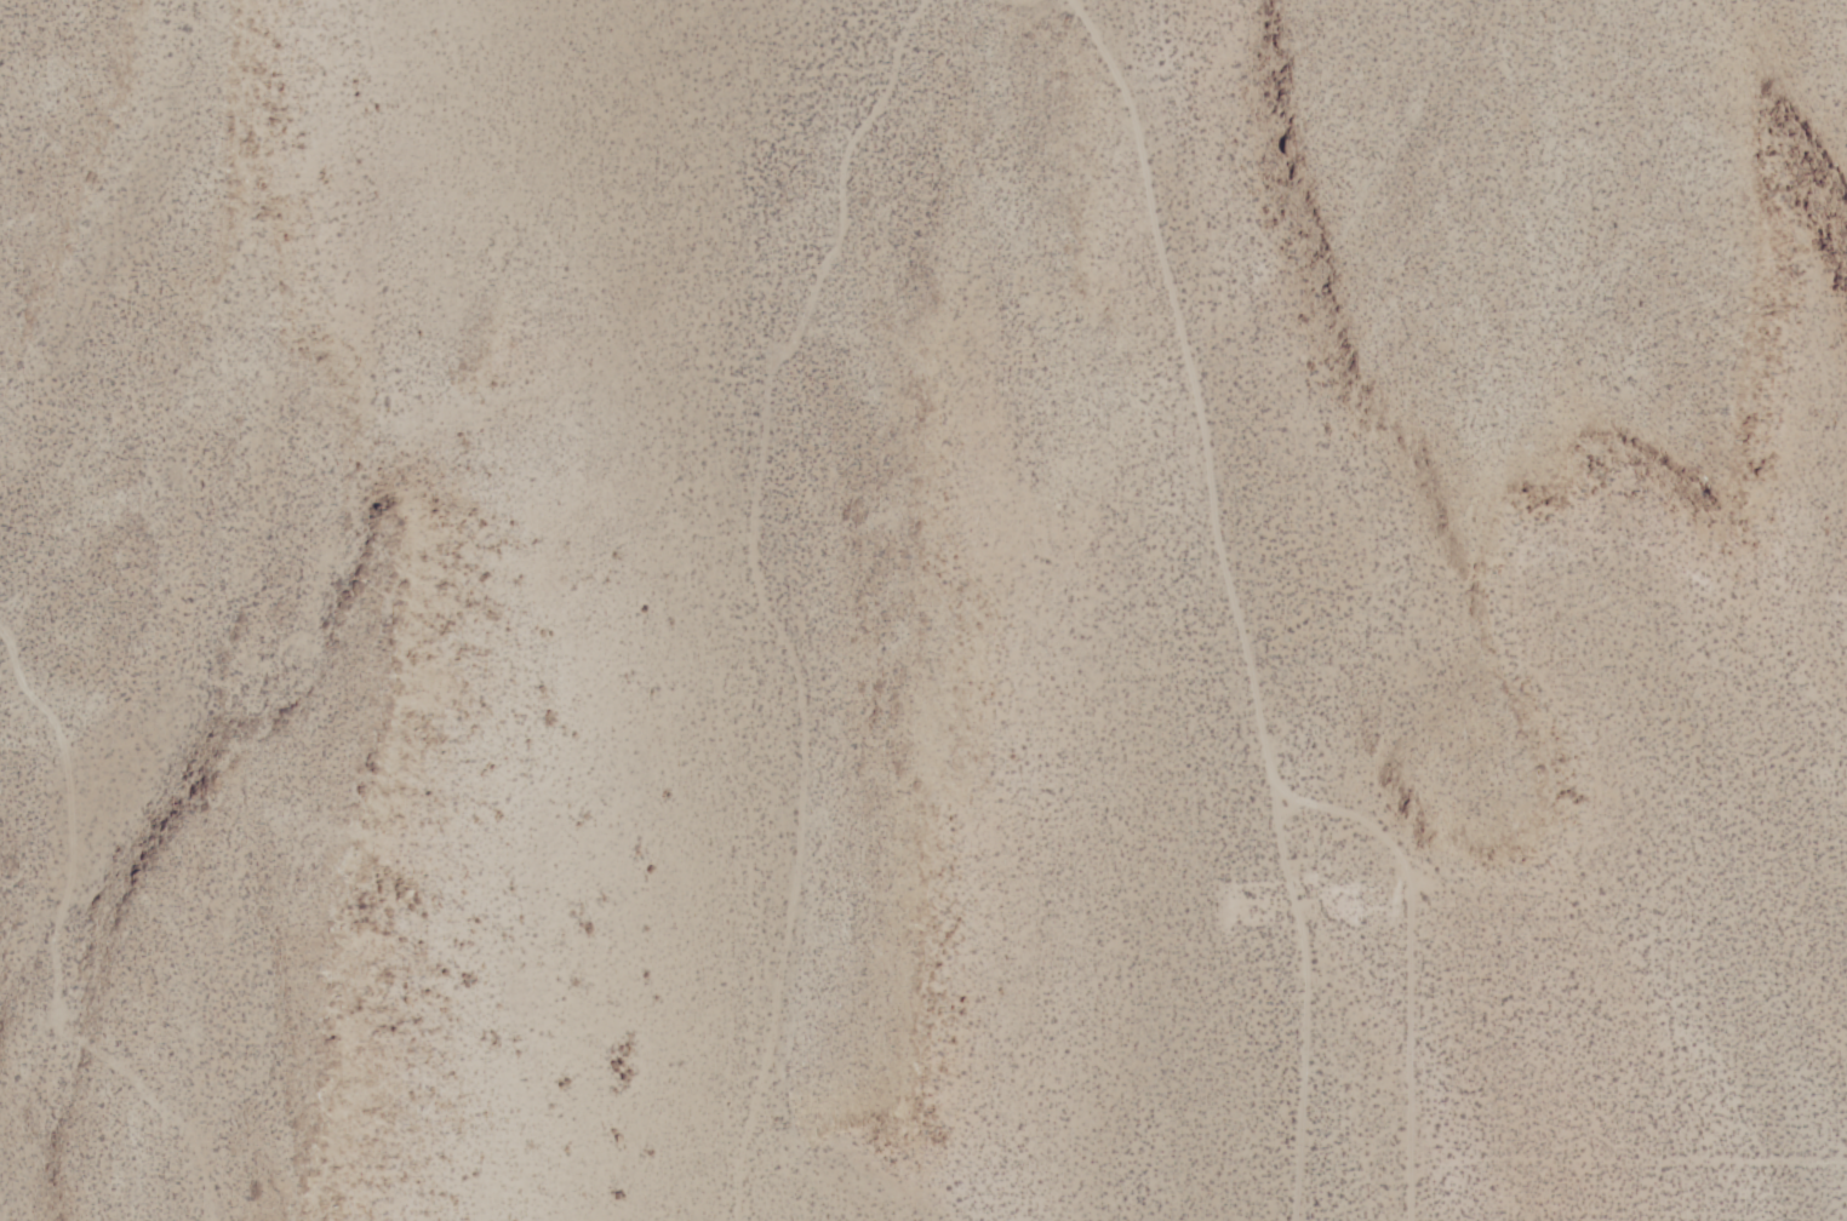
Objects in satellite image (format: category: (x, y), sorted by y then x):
road: (1241, 597)
road: (789, 598)
road: (1426, 950)
road: (1640, 1154)

